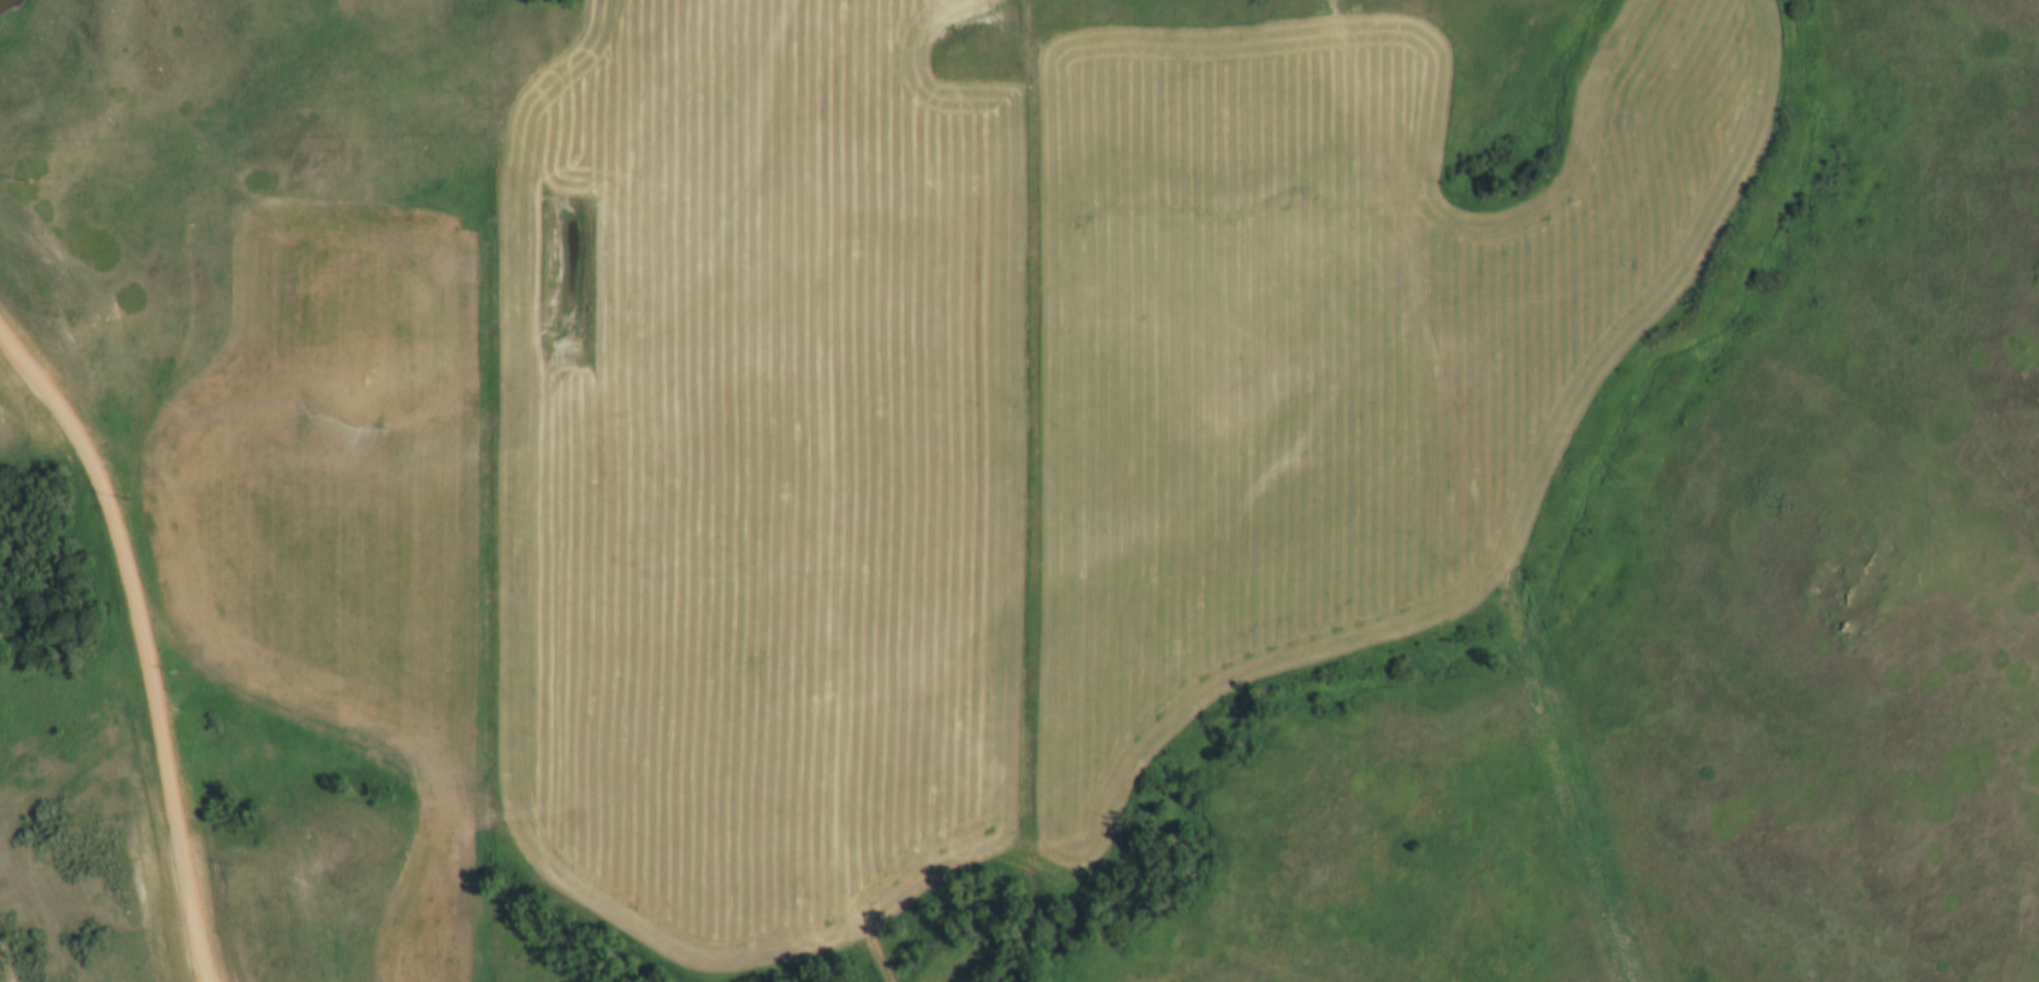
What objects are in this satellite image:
road: (1029, 434)
road: (137, 641)

